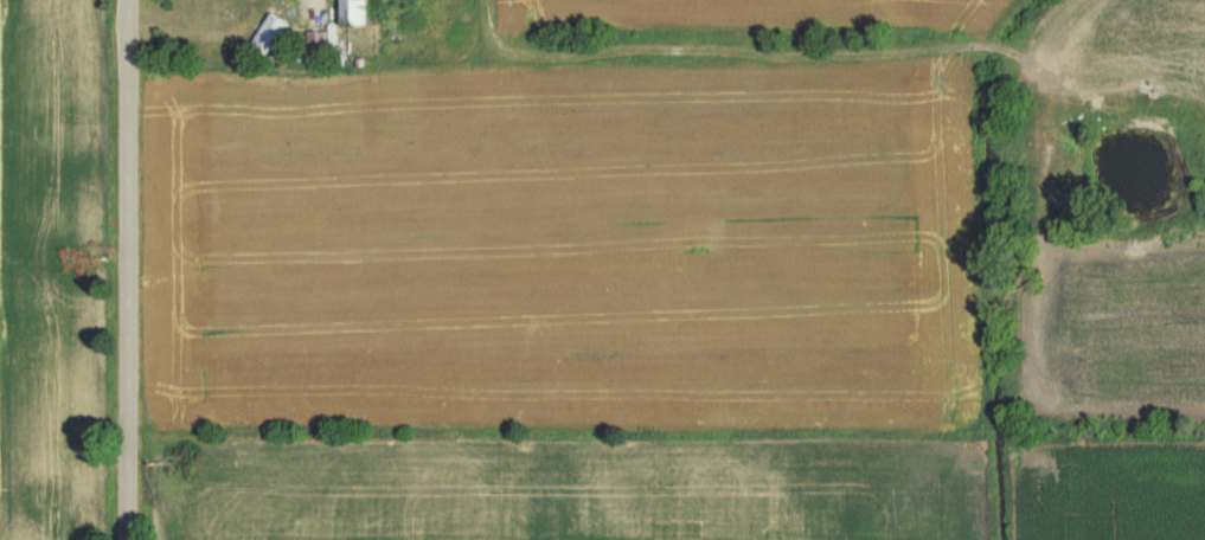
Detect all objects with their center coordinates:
building: (347, 12)
building: (268, 28)
road: (137, 270)

